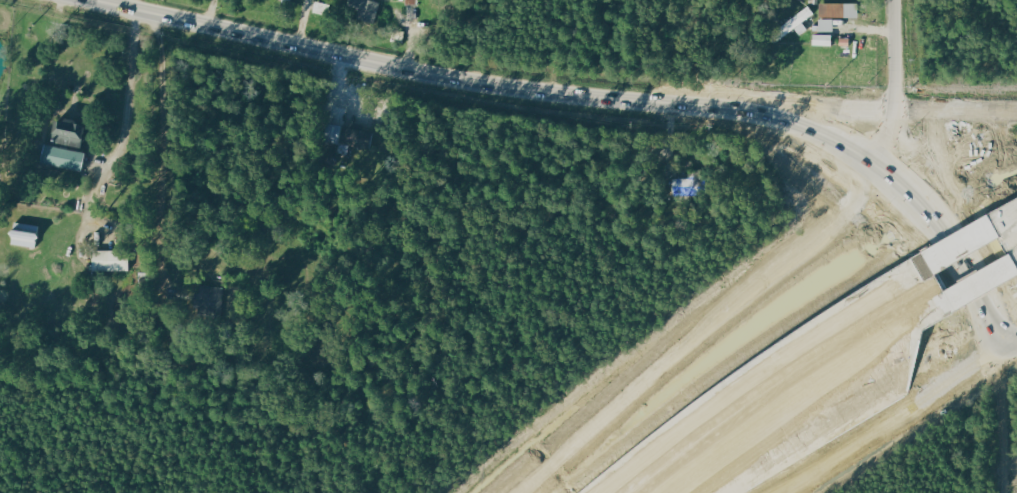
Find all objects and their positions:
building: (286, 0)
building: (411, 2)
road: (131, 5)
building: (364, 9)
building: (839, 10)
road: (212, 14)
road: (300, 23)
building: (794, 23)
building: (826, 25)
building: (821, 40)
road: (411, 70)
road: (893, 84)
road: (125, 125)
building: (330, 133)
building: (64, 134)
building: (360, 139)
building: (57, 157)
road: (962, 166)
road: (911, 197)
road: (1010, 218)
road: (982, 224)
building: (25, 234)
road: (970, 241)
building: (110, 261)
road: (986, 282)
building: (211, 299)
road: (708, 331)
road: (1015, 354)
road: (763, 369)
road: (810, 390)
road: (1010, 424)
road: (902, 426)

